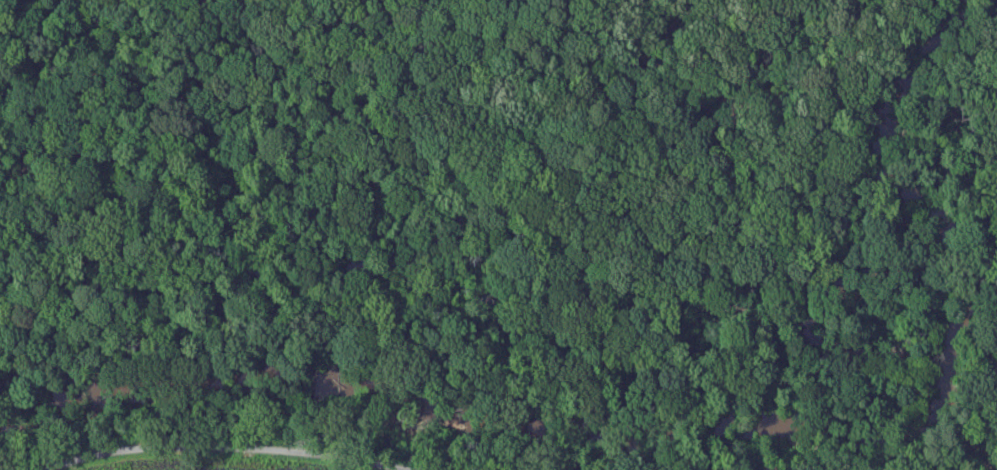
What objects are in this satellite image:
road: (229, 446)
crop: (169, 467)

